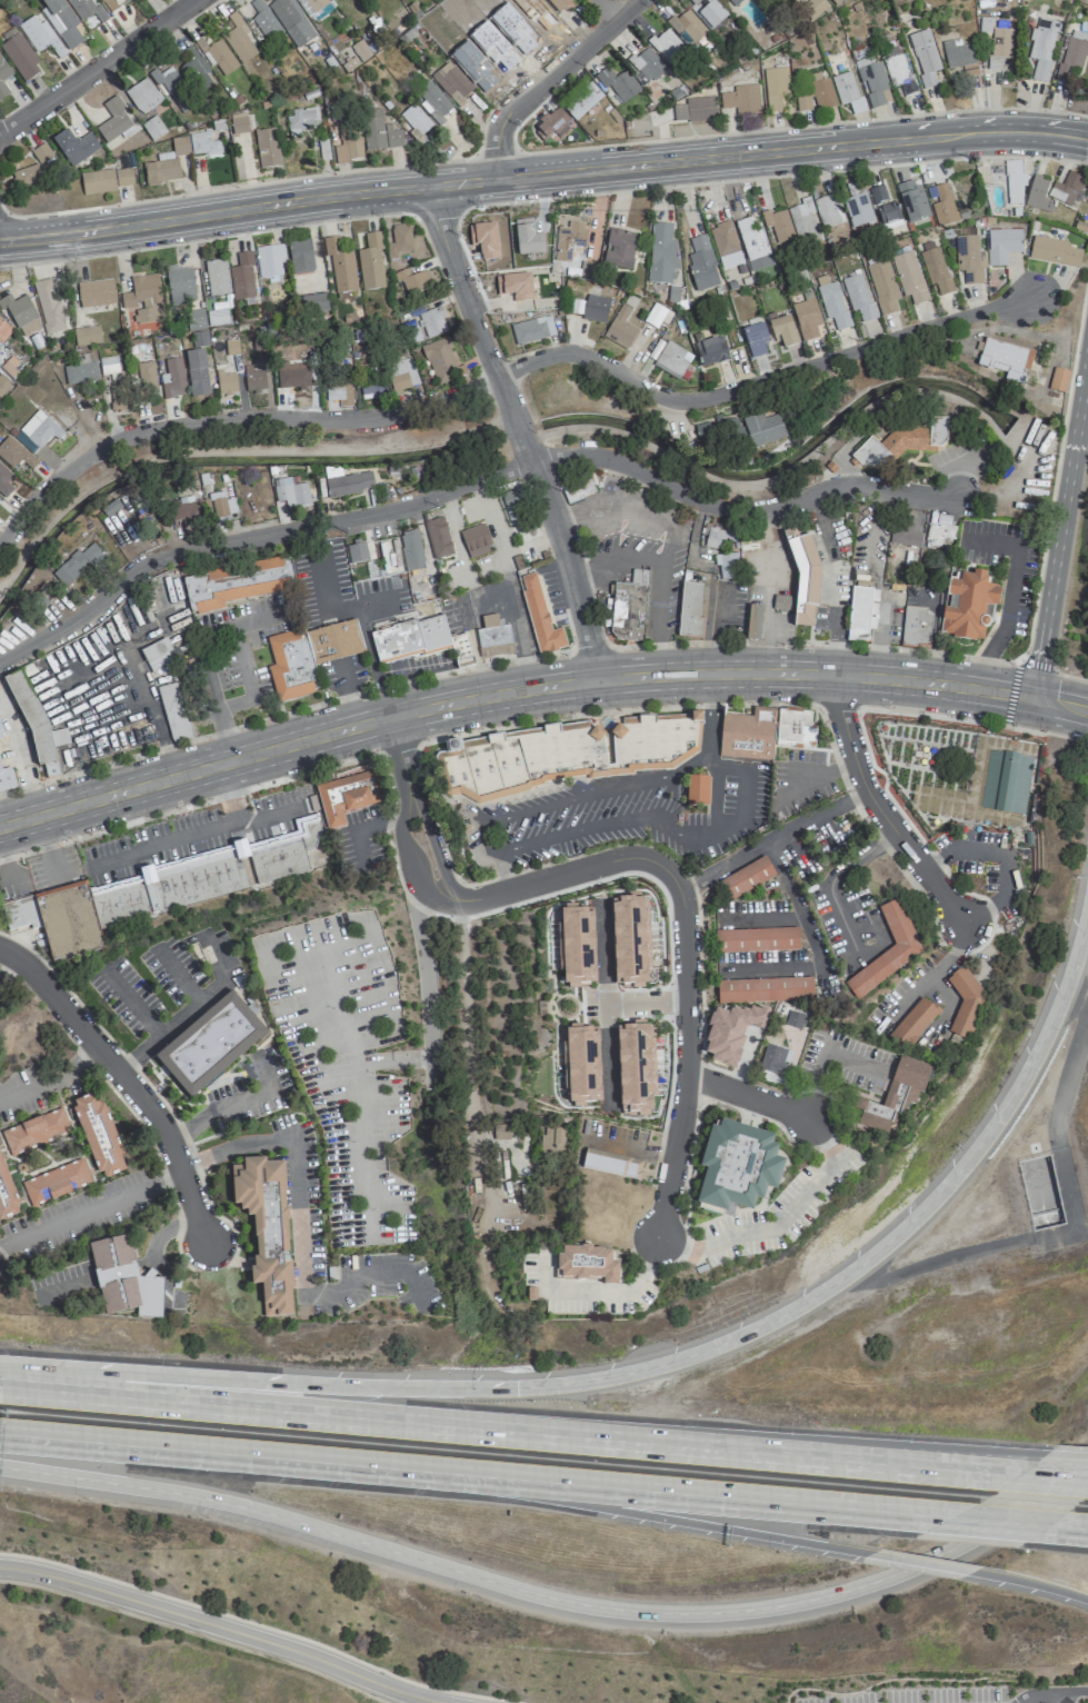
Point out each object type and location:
building: (836, 1)
building: (735, 2)
building: (108, 4)
building: (558, 4)
building: (315, 9)
building: (87, 10)
road: (605, 10)
building: (707, 11)
building: (263, 20)
building: (291, 21)
building: (61, 22)
building: (687, 26)
building: (985, 27)
building: (39, 36)
building: (238, 39)
building: (999, 43)
building: (667, 47)
building: (1041, 47)
building: (957, 53)
building: (217, 56)
building: (1071, 57)
building: (20, 58)
building: (925, 58)
building: (647, 64)
road: (94, 66)
building: (194, 70)
building: (896, 70)
building: (969, 71)
building: (3, 78)
road: (545, 78)
building: (872, 81)
building: (451, 83)
building: (618, 83)
building: (775, 87)
building: (172, 88)
building: (821, 91)
building: (847, 91)
building: (142, 96)
building: (741, 99)
building: (581, 100)
building: (432, 102)
building: (802, 103)
building: (695, 110)
building: (300, 119)
building: (415, 119)
building: (114, 122)
building: (238, 123)
building: (552, 125)
building: (378, 132)
road: (966, 132)
building: (343, 138)
building: (202, 143)
building: (74, 147)
building: (267, 148)
building: (41, 153)
building: (164, 163)
building: (26, 176)
building: (106, 180)
building: (1014, 182)
road: (421, 186)
building: (1067, 190)
building: (1038, 195)
building: (912, 201)
building: (940, 203)
building: (884, 206)
building: (828, 210)
building: (858, 210)
building: (802, 221)
building: (778, 225)
building: (527, 238)
building: (723, 239)
building: (483, 240)
building: (751, 240)
building: (399, 241)
building: (569, 241)
building: (1001, 246)
building: (619, 249)
building: (1054, 251)
building: (661, 253)
building: (300, 257)
building: (969, 259)
building: (269, 260)
building: (370, 262)
building: (701, 263)
building: (339, 265)
building: (935, 268)
building: (217, 277)
building: (908, 277)
building: (241, 278)
building: (179, 280)
building: (411, 282)
building: (515, 285)
building: (882, 287)
building: (142, 298)
building: (858, 299)
building: (312, 305)
building: (48, 306)
building: (832, 306)
building: (595, 309)
building: (20, 315)
building: (655, 316)
building: (806, 318)
building: (194, 320)
building: (425, 326)
building: (620, 328)
building: (3, 330)
building: (532, 330)
building: (782, 331)
building: (88, 336)
building: (755, 339)
building: (231, 347)
building: (710, 351)
building: (1005, 359)
building: (439, 361)
building: (108, 366)
road: (502, 371)
building: (80, 372)
building: (197, 372)
building: (402, 372)
building: (144, 374)
building: (293, 376)
building: (172, 379)
building: (252, 380)
building: (1058, 380)
building: (226, 382)
building: (370, 390)
building: (338, 392)
building: (118, 399)
building: (40, 429)
building: (762, 429)
building: (717, 430)
road: (519, 438)
building: (901, 441)
building: (23, 442)
building: (14, 454)
road: (1057, 465)
building: (4, 482)
building: (347, 482)
road: (467, 482)
building: (578, 490)
building: (291, 495)
building: (221, 505)
building: (512, 505)
building: (187, 510)
road: (1059, 520)
building: (939, 529)
road: (672, 534)
building: (905, 536)
building: (716, 537)
building: (438, 538)
building: (475, 541)
building: (356, 552)
road: (1069, 555)
road: (616, 557)
building: (77, 564)
building: (726, 566)
building: (803, 579)
building: (237, 584)
building: (968, 606)
building: (689, 608)
building: (627, 611)
building: (861, 613)
building: (539, 615)
building: (915, 626)
building: (493, 637)
building: (410, 638)
road: (713, 643)
road: (588, 649)
building: (159, 654)
road: (1035, 664)
building: (291, 666)
road: (1068, 676)
road: (510, 681)
road: (248, 686)
road: (1010, 693)
building: (169, 694)
traffic signals: (1031, 697)
road: (1059, 703)
road: (837, 705)
road: (509, 706)
road: (874, 709)
road: (612, 710)
road: (281, 714)
building: (30, 716)
road: (709, 724)
building: (1, 731)
building: (745, 734)
building: (59, 737)
road: (224, 738)
road: (296, 743)
road: (397, 747)
building: (561, 755)
road: (736, 769)
building: (6, 778)
road: (818, 779)
road: (271, 781)
building: (1005, 783)
road: (30, 789)
building: (696, 790)
building: (347, 796)
road: (882, 815)
road: (771, 838)
road: (1001, 853)
road: (4, 866)
road: (499, 873)
building: (212, 875)
building: (746, 877)
road: (433, 879)
road: (832, 882)
road: (798, 909)
building: (20, 913)
road: (761, 914)
building: (68, 920)
road: (682, 928)
building: (629, 940)
building: (756, 940)
building: (576, 946)
building: (887, 950)
road: (770, 969)
road: (934, 972)
building: (763, 990)
road: (463, 995)
road: (645, 1004)
building: (966, 1004)
road: (605, 1006)
road: (187, 1012)
building: (793, 1020)
building: (911, 1024)
building: (730, 1032)
building: (209, 1044)
road: (116, 1046)
building: (775, 1059)
building: (580, 1063)
building: (635, 1068)
road: (50, 1075)
road: (124, 1078)
building: (894, 1097)
road: (750, 1099)
building: (34, 1131)
building: (500, 1132)
building: (98, 1135)
building: (553, 1142)
road: (264, 1146)
building: (611, 1163)
building: (737, 1166)
building: (56, 1182)
building: (6, 1196)
road: (91, 1208)
road: (780, 1225)
building: (266, 1228)
building: (587, 1264)
building: (123, 1279)
road: (330, 1296)
road: (662, 1363)
road: (448, 1423)
road: (216, 1451)
road: (1066, 1455)
road: (970, 1460)
road: (955, 1470)
road: (1051, 1478)
road: (688, 1494)
road: (649, 1516)
road: (995, 1523)
road: (1067, 1528)
road: (919, 1562)
road: (1029, 1582)
road: (557, 1599)
road: (257, 1624)
road: (220, 1627)
road: (1037, 1692)
road: (1075, 1692)
parking lot: (918, 1696)
road: (1061, 1697)
parking lot: (1059, 1701)

